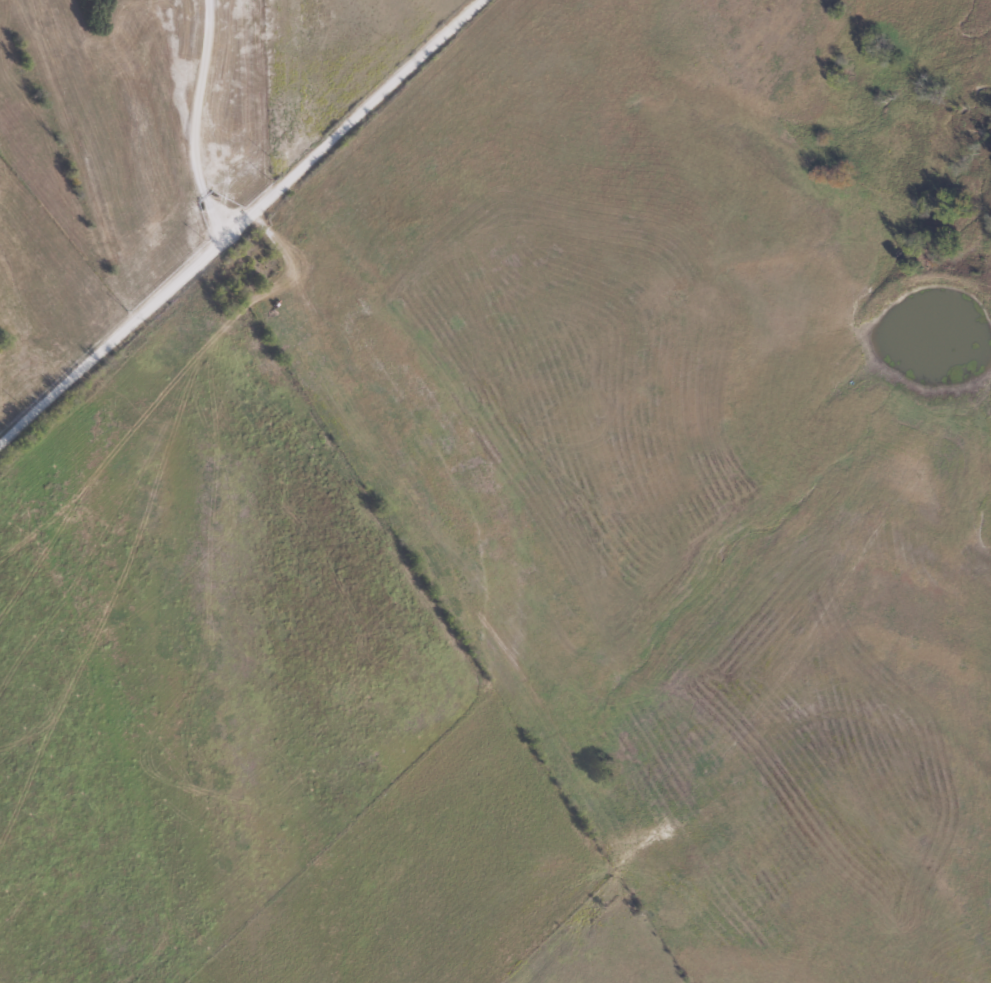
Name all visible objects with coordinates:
road: (193, 118)
road: (305, 155)
road: (69, 374)

